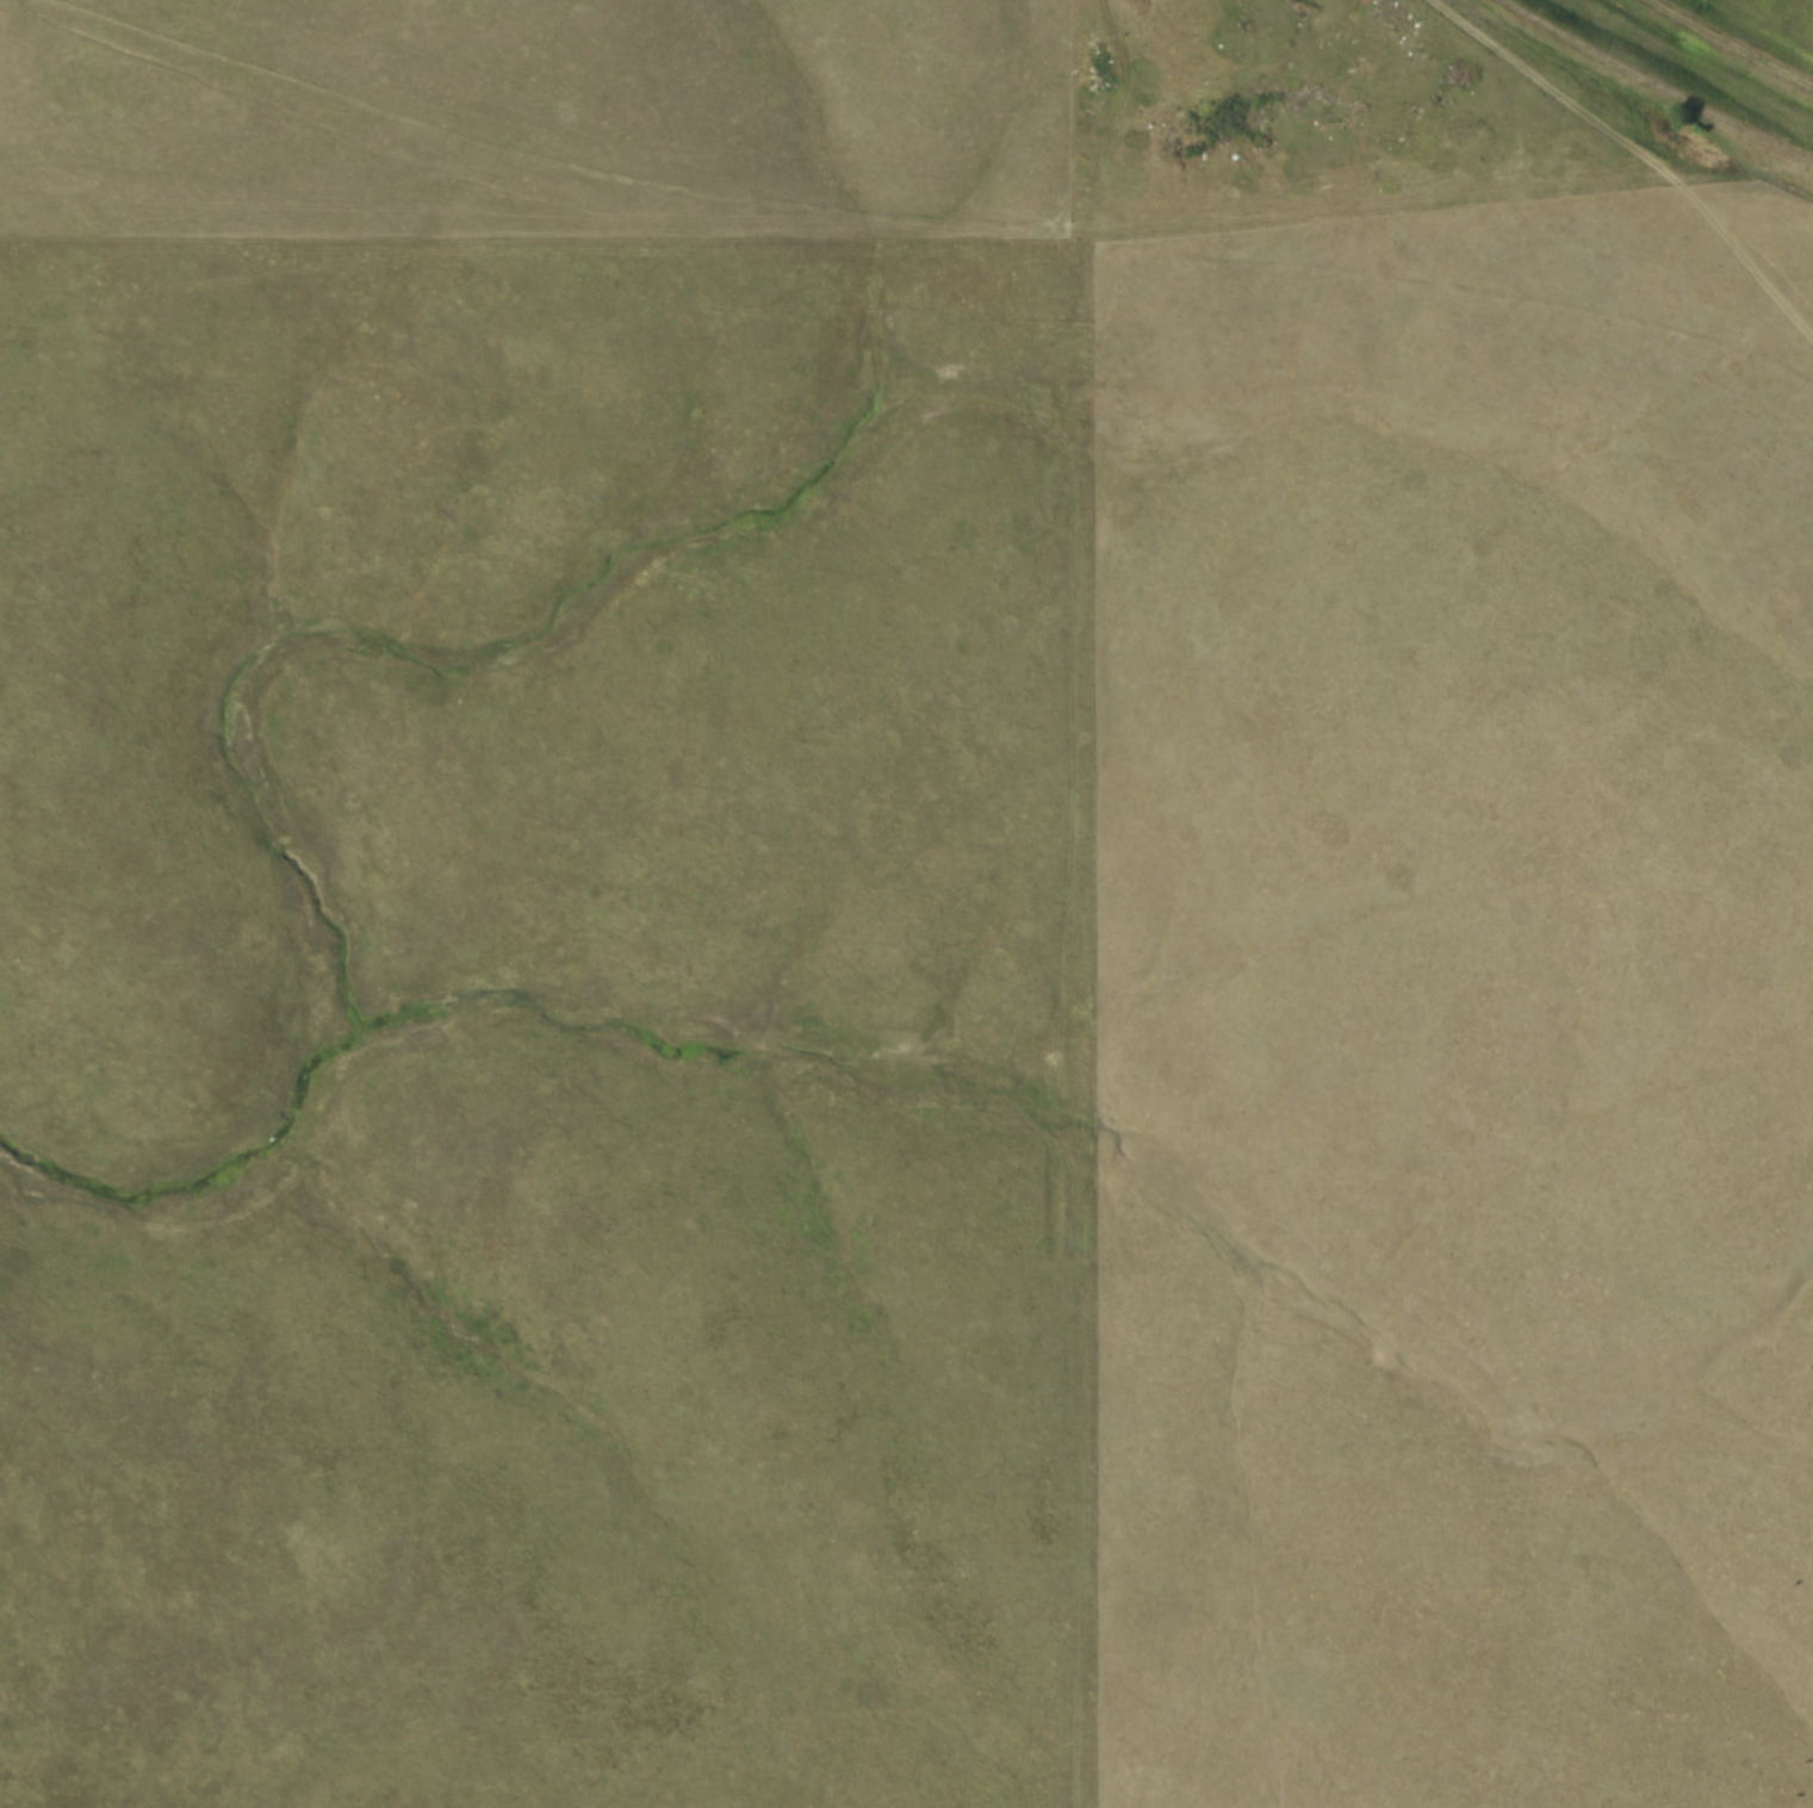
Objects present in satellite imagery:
road: (1724, 48)
railway: (1646, 89)

